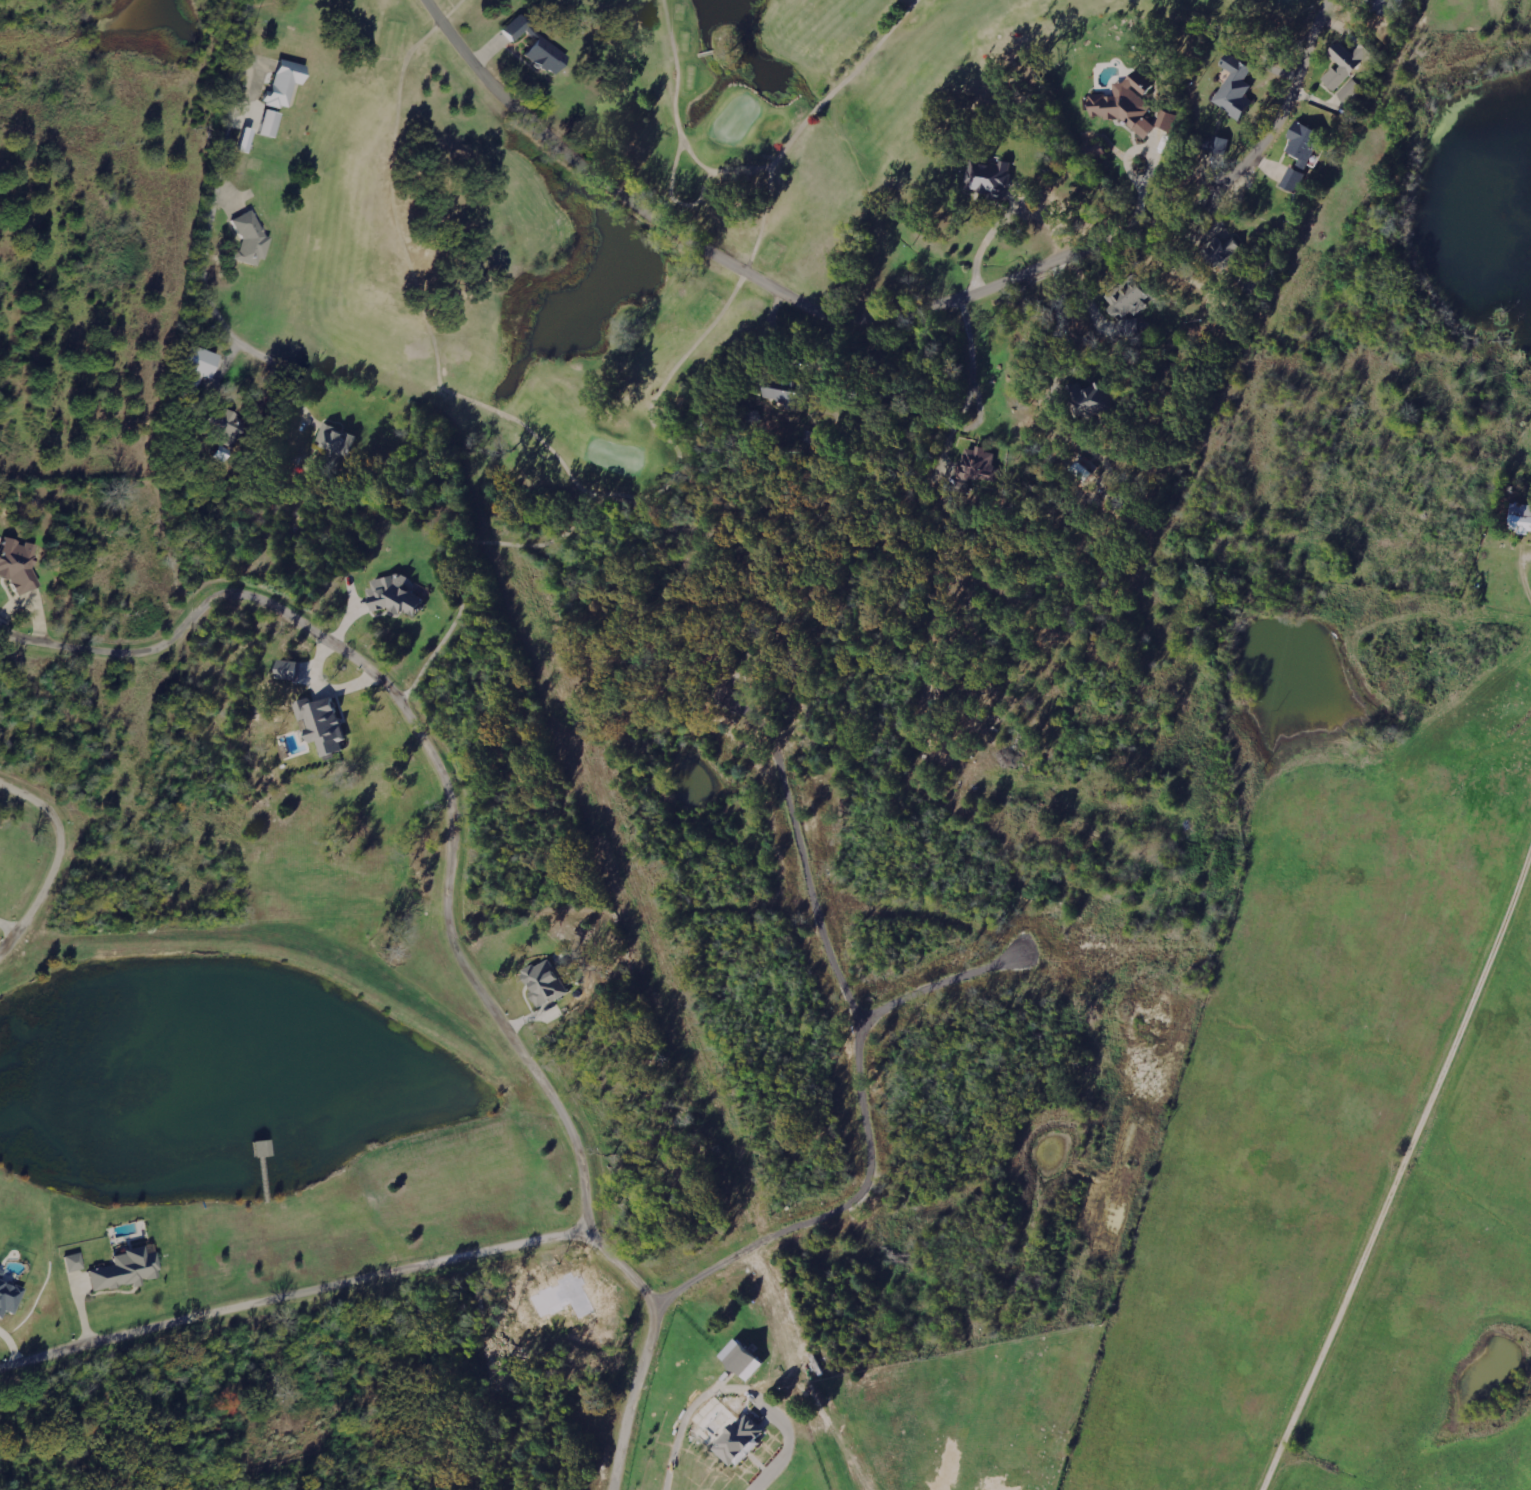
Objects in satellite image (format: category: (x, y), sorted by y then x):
building: (1379, 5)
building: (520, 27)
building: (549, 56)
building: (1344, 64)
building: (288, 83)
building: (1233, 87)
building: (1124, 107)
building: (1167, 122)
building: (272, 123)
building: (1302, 142)
building: (1218, 144)
building: (1094, 156)
building: (989, 179)
park: (561, 198)
road: (207, 222)
building: (251, 240)
building: (1219, 252)
building: (1126, 299)
road: (900, 304)
building: (203, 360)
building: (1089, 398)
building: (225, 422)
building: (337, 441)
building: (222, 456)
building: (975, 462)
road: (1193, 490)
road: (1461, 517)
building: (1519, 517)
building: (20, 561)
building: (396, 594)
building: (293, 669)
building: (326, 724)
road: (55, 858)
road: (446, 893)
building: (543, 983)
road: (1386, 1145)
building: (76, 1262)
building: (0, 1269)
building: (129, 1269)
road: (294, 1296)
building: (10, 1297)
building: (739, 1360)
building: (736, 1441)

